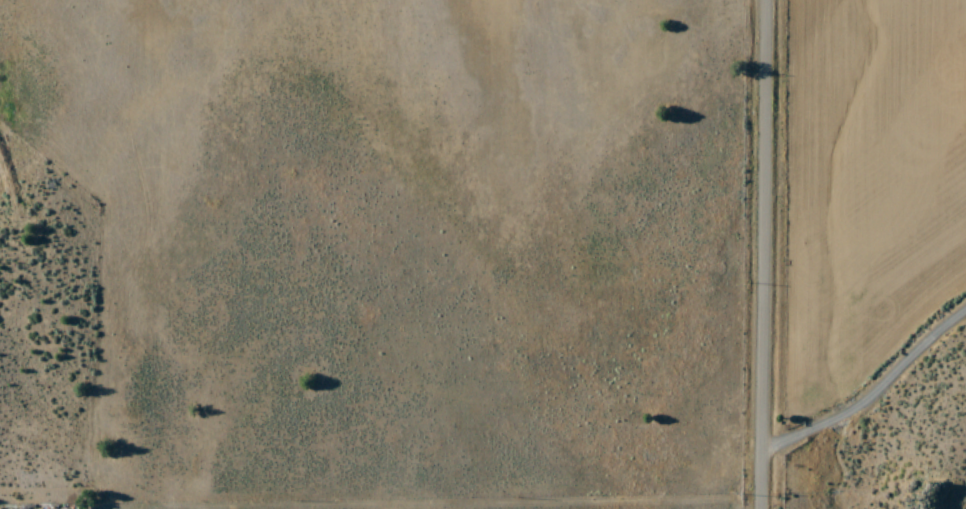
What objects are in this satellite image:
road: (773, 254)
road: (448, 506)

